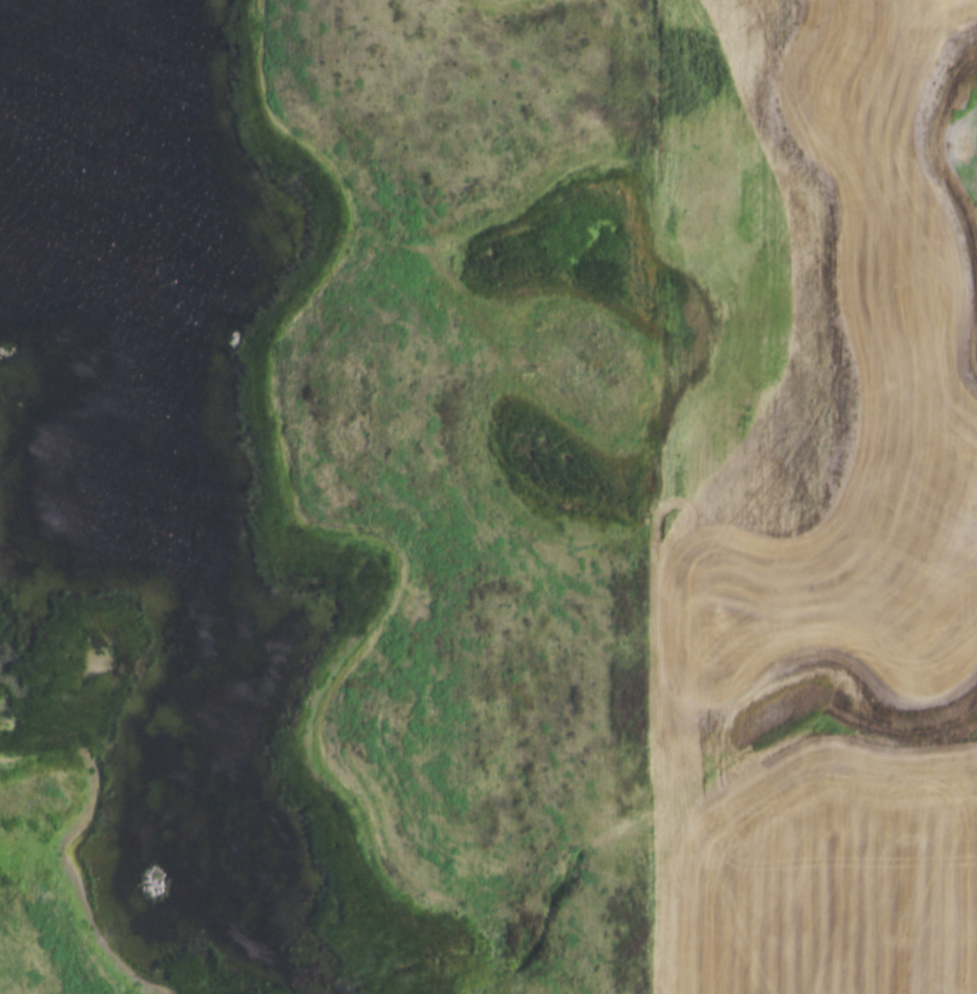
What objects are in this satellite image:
road: (666, 496)

